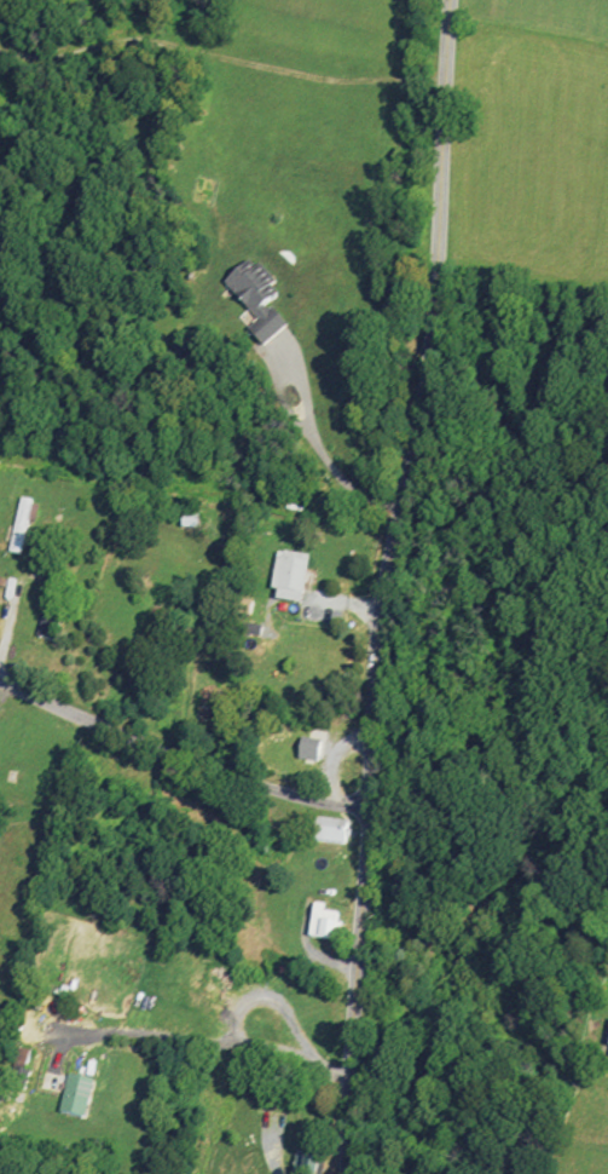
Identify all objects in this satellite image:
road: (221, 58)
building: (256, 301)
road: (317, 447)
building: (21, 524)
building: (11, 526)
building: (290, 576)
road: (383, 585)
road: (344, 604)
building: (247, 606)
road: (11, 617)
building: (48, 628)
building: (250, 629)
building: (309, 747)
road: (180, 755)
building: (330, 831)
building: (323, 923)
road: (311, 956)
road: (268, 999)
building: (607, 1040)
road: (212, 1043)
building: (18, 1076)
building: (77, 1097)
road: (271, 1147)
building: (308, 1167)

